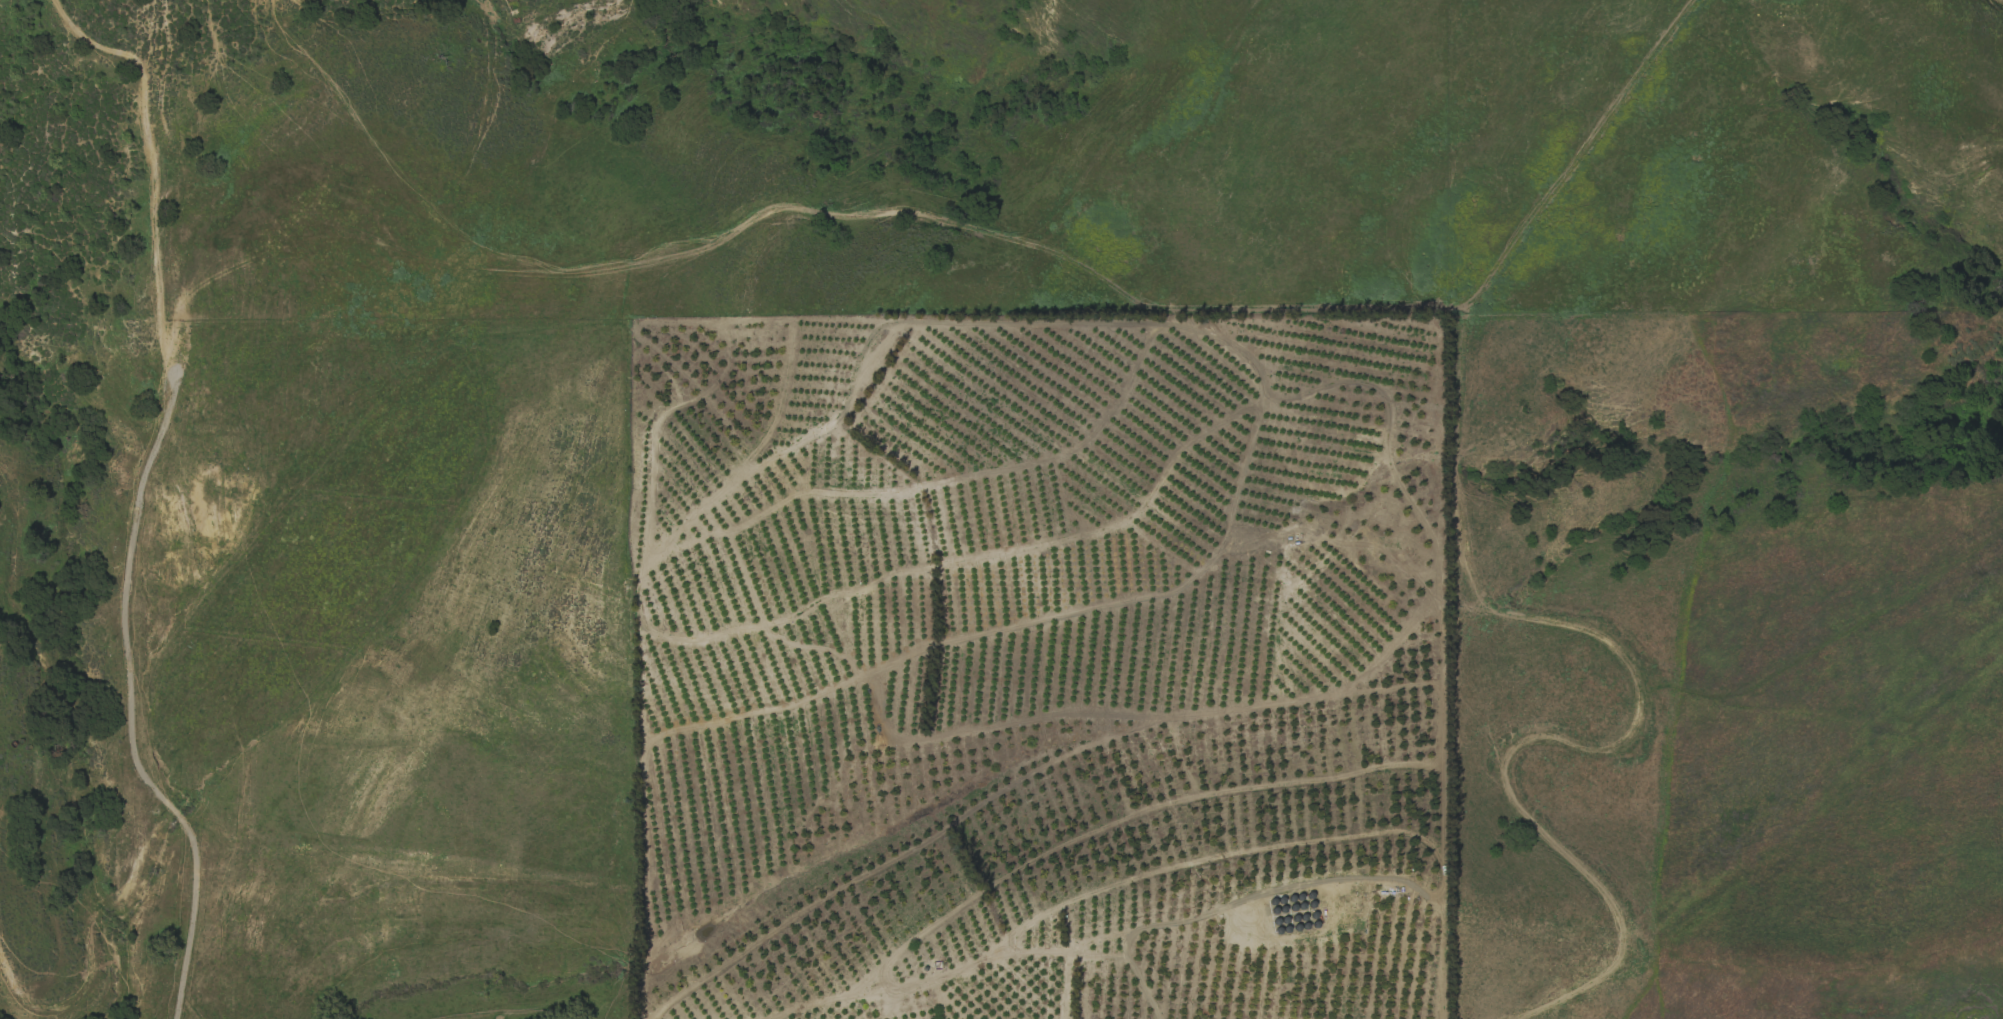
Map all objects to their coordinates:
road: (1507, 615)
road: (129, 712)
road: (92, 929)

